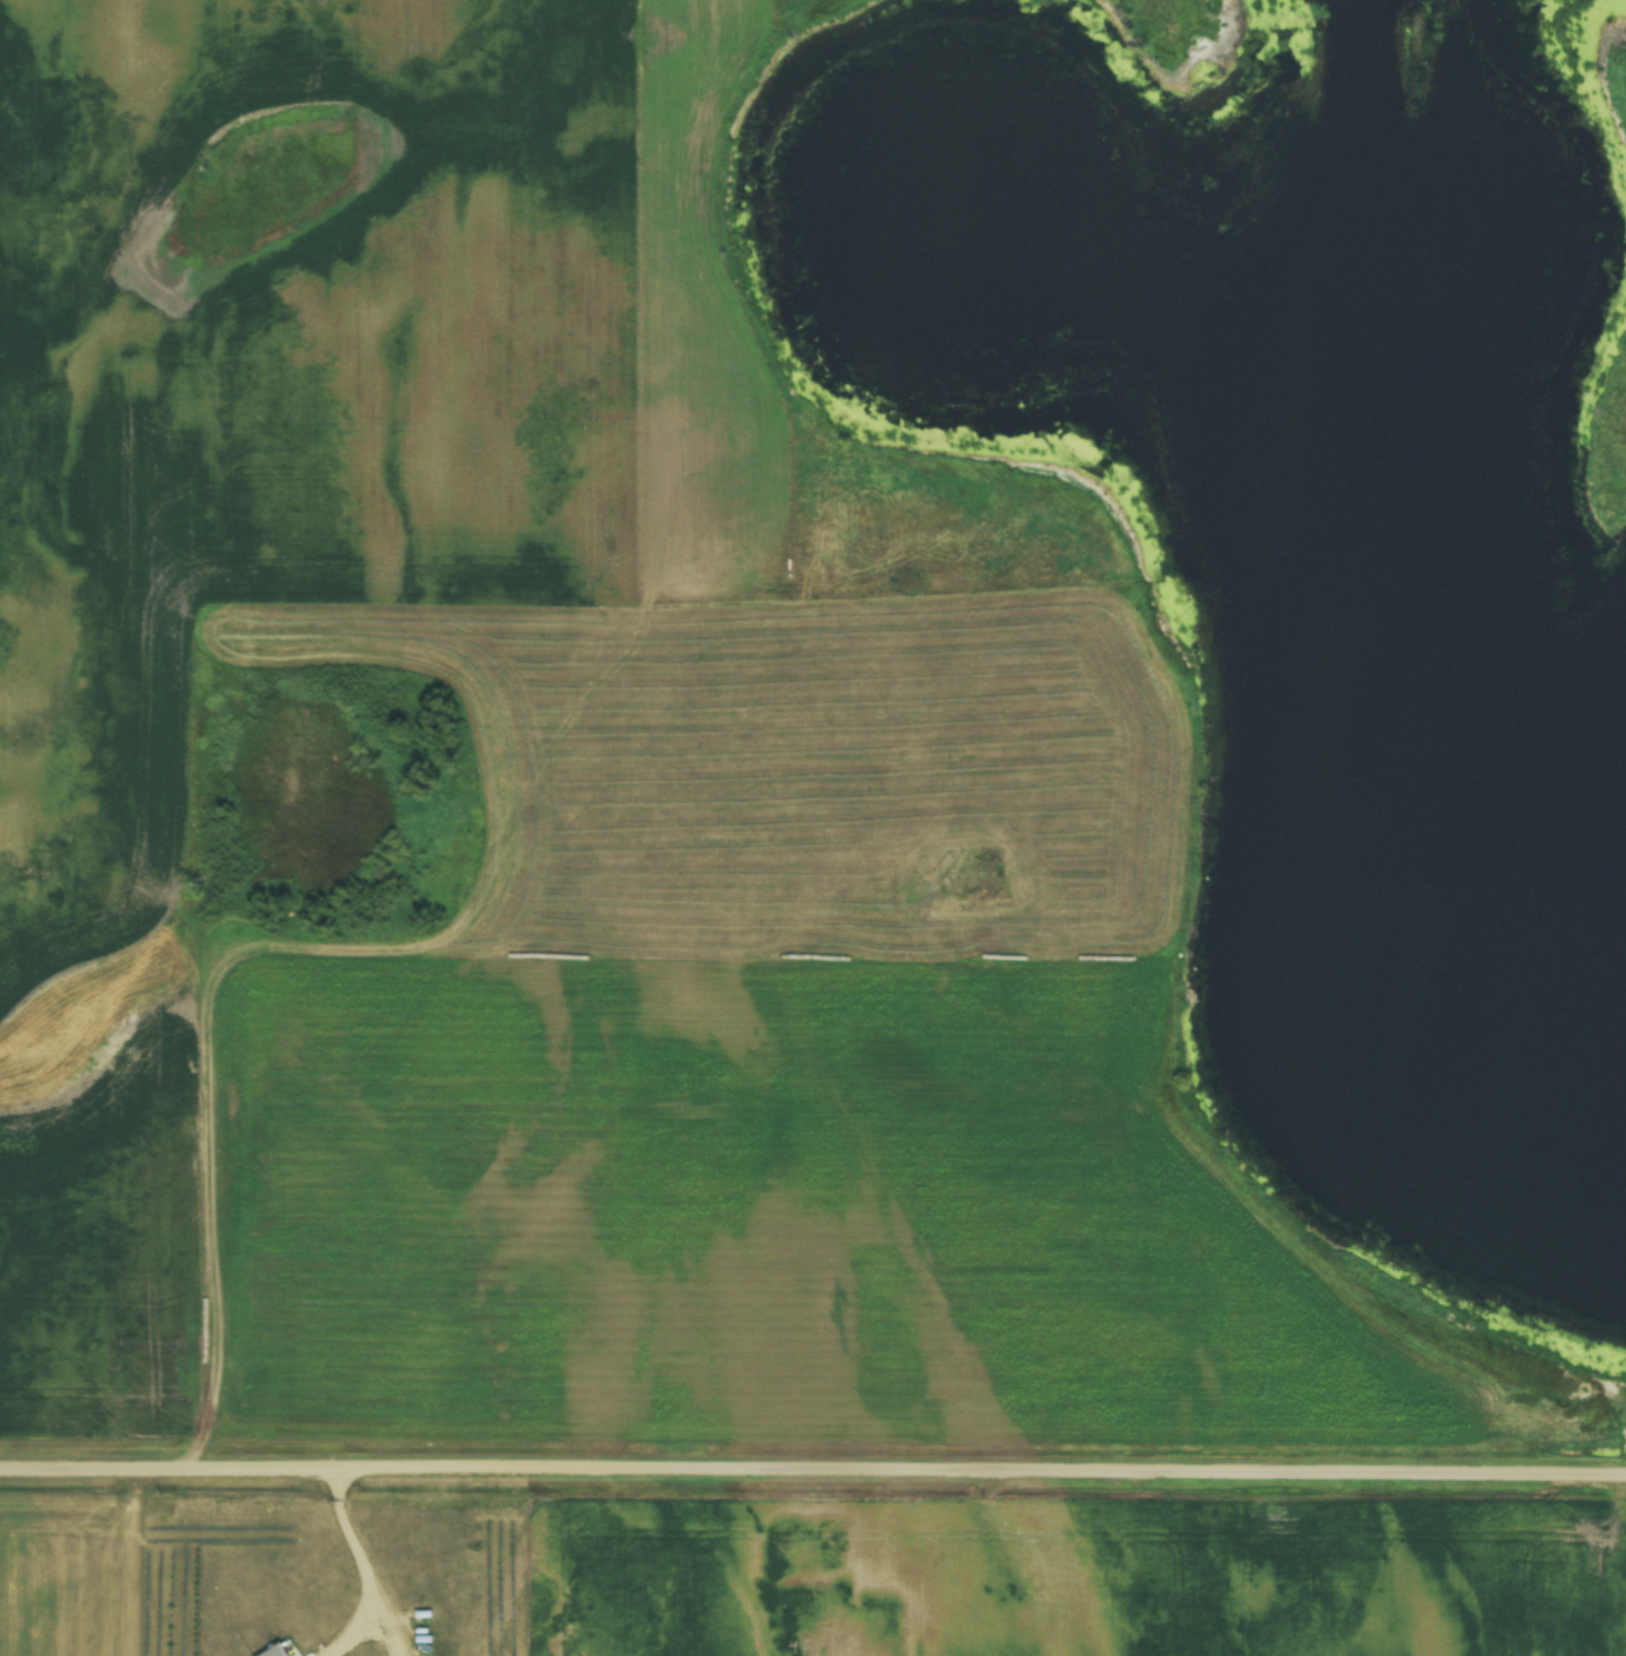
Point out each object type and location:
road: (813, 1472)
road: (365, 1565)
building: (278, 1652)

